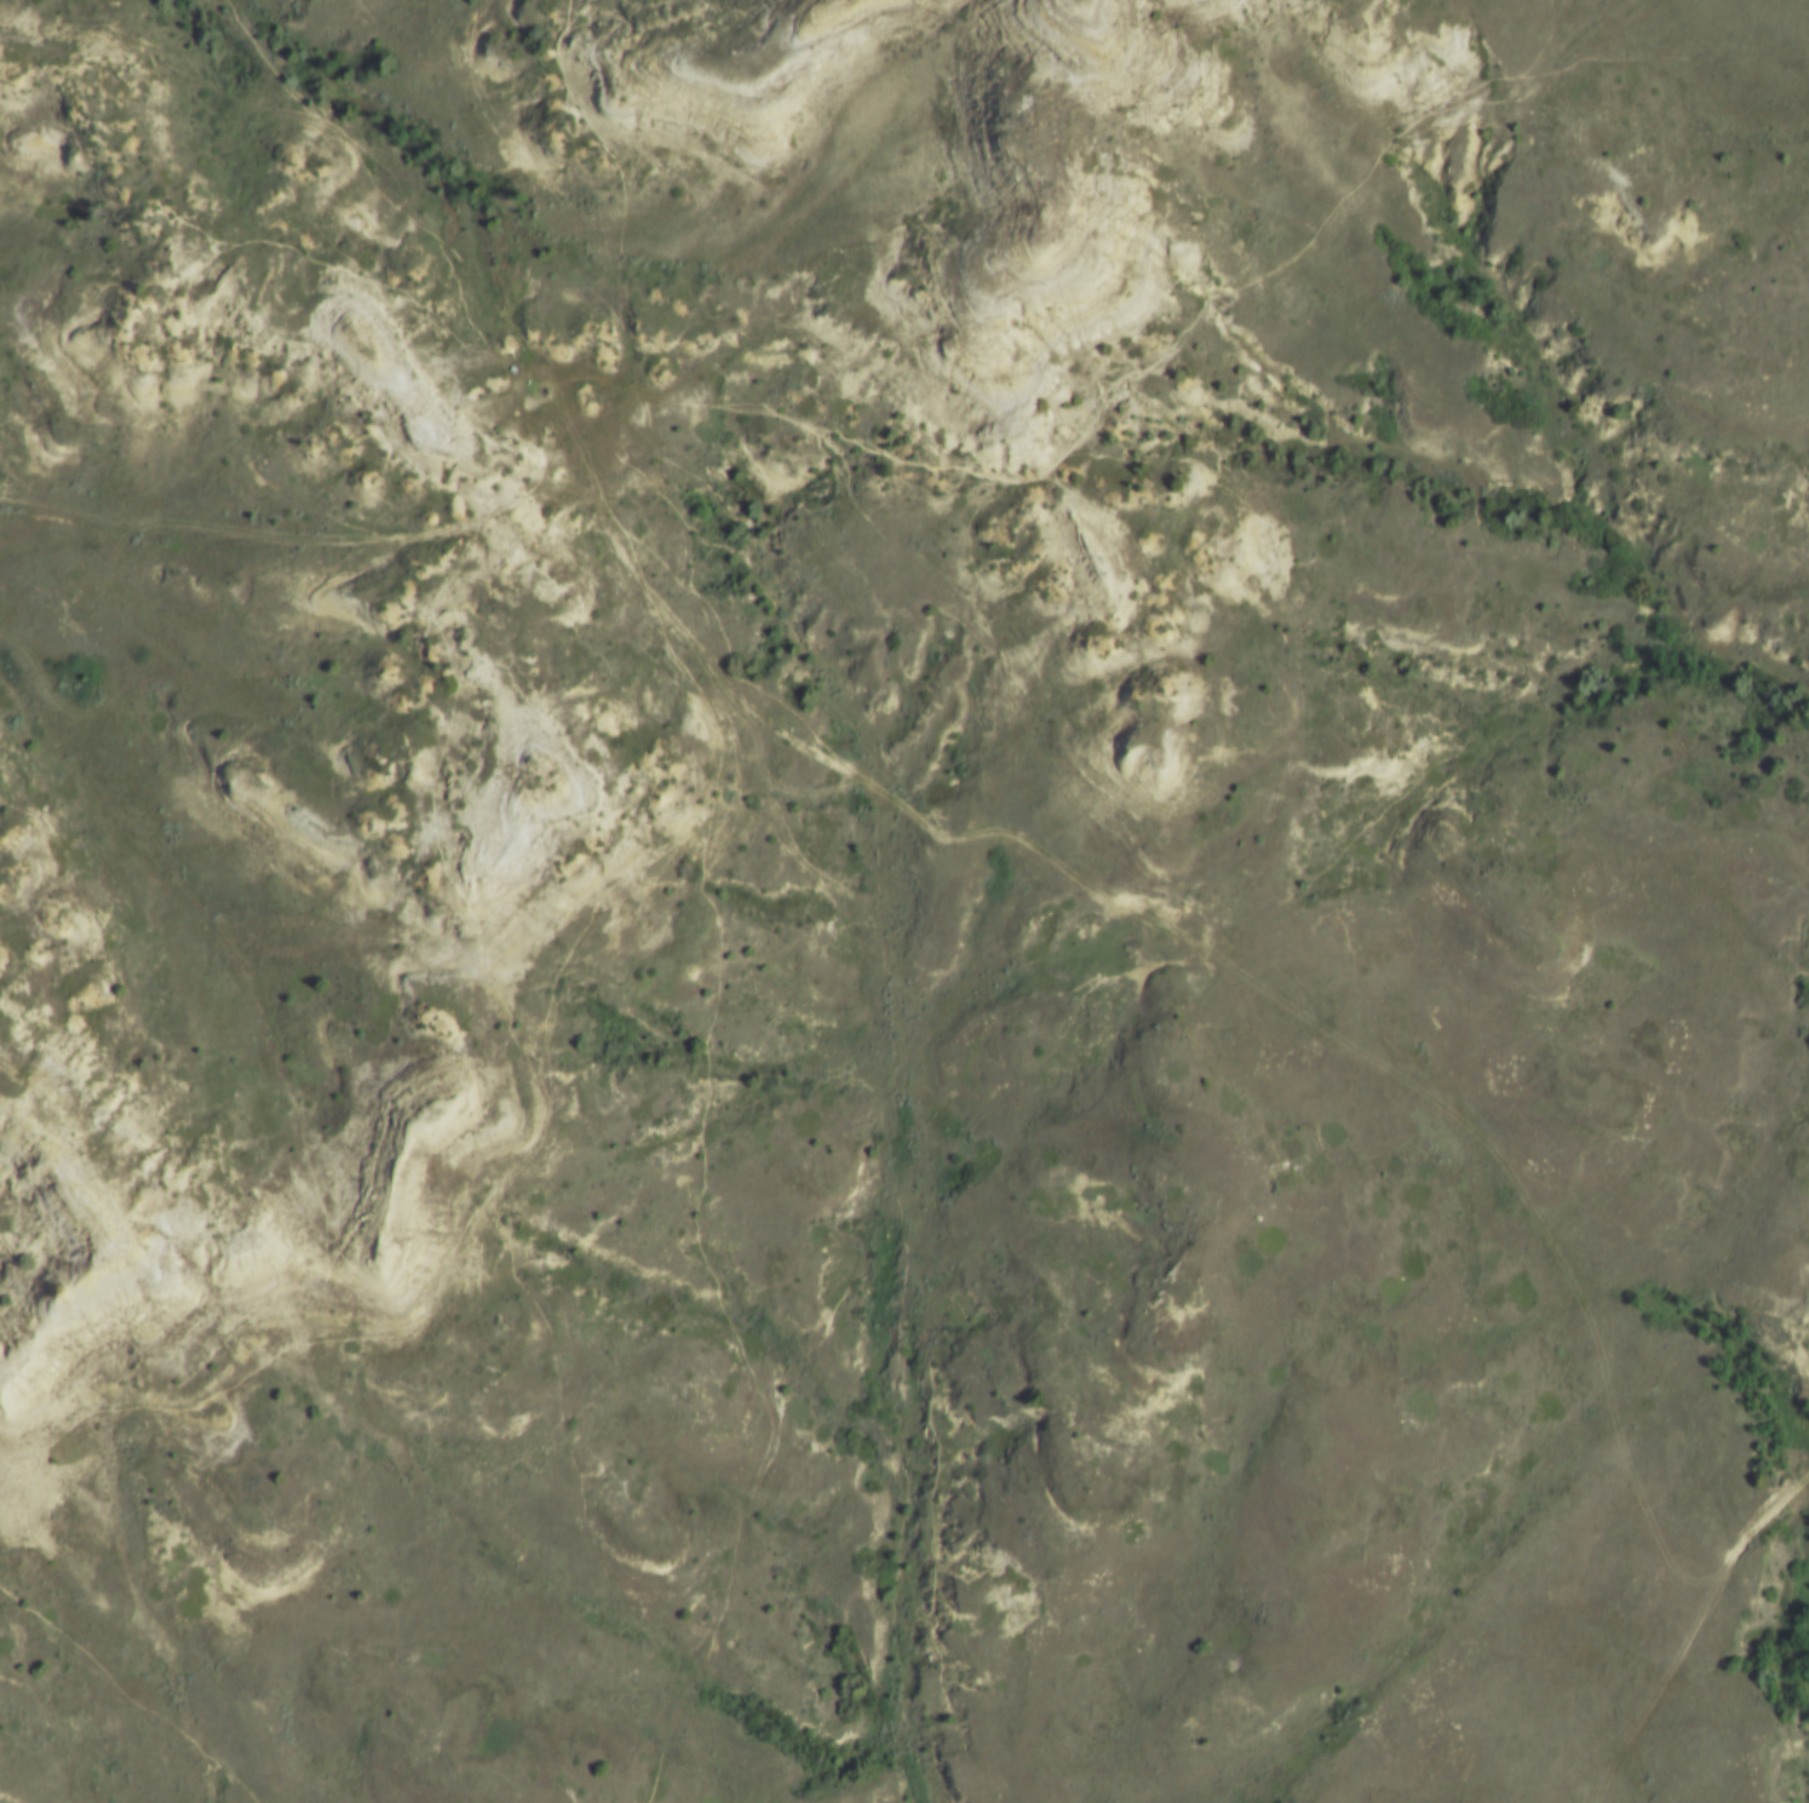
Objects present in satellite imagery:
road: (1693, 1633)

